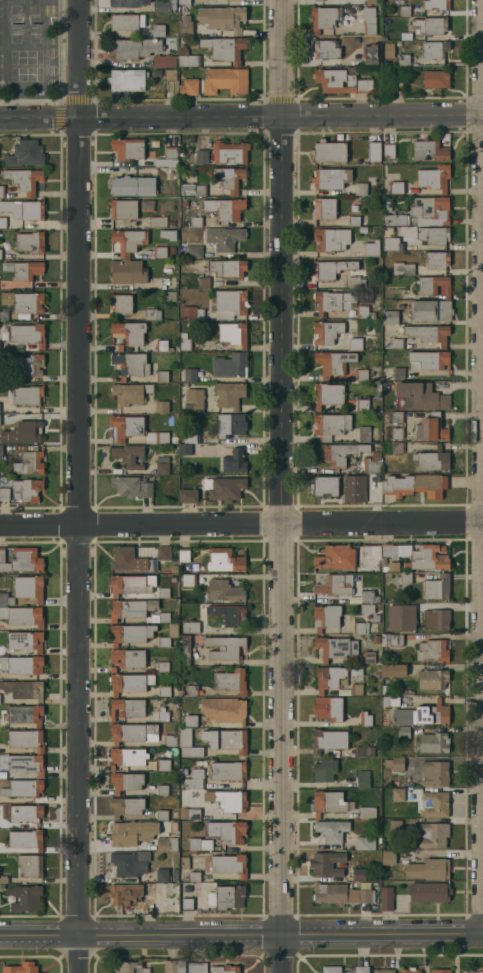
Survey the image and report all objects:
building: (318, 0)
building: (373, 1)
building: (185, 2)
building: (128, 3)
building: (436, 4)
building: (161, 5)
building: (185, 7)
building: (404, 10)
building: (324, 17)
building: (222, 18)
building: (369, 20)
building: (126, 22)
building: (186, 25)
building: (435, 25)
building: (158, 30)
building: (406, 36)
building: (134, 48)
building: (224, 48)
building: (328, 49)
building: (434, 49)
building: (389, 50)
building: (370, 54)
building: (187, 57)
building: (404, 59)
building: (164, 60)
building: (170, 75)
building: (436, 79)
building: (127, 80)
building: (225, 80)
building: (396, 81)
building: (341, 82)
building: (189, 86)
road: (241, 117)
building: (128, 148)
building: (388, 150)
building: (429, 150)
building: (329, 151)
building: (374, 151)
building: (229, 152)
building: (26, 153)
building: (171, 153)
building: (202, 156)
building: (170, 173)
building: (434, 177)
building: (229, 178)
building: (330, 178)
building: (24, 179)
building: (371, 180)
building: (132, 185)
building: (396, 188)
building: (193, 189)
building: (361, 189)
building: (1, 191)
building: (147, 205)
building: (324, 208)
building: (25, 209)
building: (123, 209)
building: (230, 209)
building: (431, 210)
building: (209, 219)
building: (394, 219)
building: (195, 221)
building: (354, 221)
building: (3, 222)
building: (158, 222)
building: (171, 224)
building: (364, 229)
building: (168, 234)
building: (433, 235)
building: (224, 238)
building: (330, 239)
building: (128, 241)
building: (31, 242)
building: (402, 244)
building: (372, 248)
building: (159, 252)
building: (173, 252)
building: (194, 252)
building: (1, 254)
building: (437, 260)
building: (227, 268)
building: (332, 268)
building: (403, 268)
building: (23, 269)
building: (127, 271)
building: (165, 281)
building: (203, 282)
building: (356, 282)
building: (433, 286)
building: (169, 296)
building: (331, 301)
building: (28, 302)
building: (121, 303)
building: (230, 303)
building: (431, 311)
building: (364, 312)
building: (190, 313)
building: (152, 314)
building: (3, 315)
building: (390, 317)
building: (129, 332)
building: (327, 332)
building: (233, 333)
building: (428, 333)
building: (28, 334)
building: (183, 335)
building: (357, 343)
building: (395, 343)
building: (185, 344)
building: (162, 345)
building: (119, 347)
building: (428, 359)
building: (333, 362)
building: (28, 365)
building: (130, 365)
building: (230, 365)
building: (398, 371)
building: (360, 374)
building: (190, 375)
building: (162, 376)
building: (131, 392)
building: (229, 394)
building: (328, 394)
building: (26, 395)
building: (421, 396)
building: (195, 399)
building: (362, 404)
building: (161, 406)
building: (397, 416)
building: (231, 425)
building: (330, 425)
building: (135, 429)
building: (428, 430)
building: (30, 431)
building: (363, 433)
building: (397, 433)
building: (192, 436)
building: (174, 439)
building: (397, 447)
building: (185, 449)
building: (338, 452)
building: (1, 453)
building: (129, 456)
building: (432, 459)
building: (234, 461)
building: (29, 463)
building: (371, 464)
building: (162, 468)
building: (376, 481)
building: (415, 485)
road: (76, 486)
road: (279, 486)
building: (325, 486)
building: (131, 487)
building: (226, 488)
building: (354, 488)
building: (28, 489)
building: (4, 494)
building: (188, 495)
road: (241, 522)
building: (372, 551)
building: (163, 552)
building: (184, 555)
building: (418, 556)
building: (336, 557)
building: (127, 559)
building: (22, 560)
building: (225, 560)
building: (391, 566)
building: (405, 577)
building: (188, 579)
building: (131, 584)
building: (335, 585)
building: (28, 588)
building: (436, 588)
building: (223, 591)
building: (163, 592)
building: (369, 596)
building: (3, 598)
building: (367, 608)
building: (136, 610)
building: (402, 610)
building: (3, 612)
building: (26, 616)
building: (234, 616)
building: (326, 617)
building: (376, 618)
building: (434, 620)
building: (191, 627)
building: (360, 627)
building: (131, 633)
building: (169, 635)
building: (391, 639)
building: (26, 640)
building: (225, 647)
building: (336, 647)
building: (184, 650)
building: (433, 651)
building: (369, 657)
building: (128, 658)
building: (22, 664)
building: (162, 667)
building: (112, 669)
building: (355, 670)
building: (393, 670)
building: (329, 677)
building: (432, 679)
building: (230, 681)
building: (127, 683)
building: (356, 689)
building: (24, 690)
building: (192, 690)
building: (164, 691)
building: (403, 692)
building: (393, 701)
building: (127, 708)
building: (328, 708)
building: (224, 709)
building: (25, 714)
building: (422, 714)
building: (163, 716)
building: (365, 719)
building: (190, 721)
building: (403, 731)
building: (134, 732)
building: (26, 739)
building: (230, 739)
building: (170, 740)
building: (328, 740)
building: (434, 742)
building: (188, 744)
building: (364, 751)
building: (128, 756)
building: (23, 763)
building: (394, 763)
building: (163, 765)
building: (112, 768)
building: (324, 770)
building: (183, 771)
building: (228, 771)
building: (434, 774)
building: (362, 779)
building: (195, 780)
building: (126, 781)
building: (23, 788)
building: (163, 790)
building: (398, 794)
building: (231, 800)
building: (328, 802)
building: (434, 804)
building: (126, 806)
building: (367, 812)
building: (26, 813)
building: (193, 814)
building: (162, 815)
building: (395, 826)
building: (173, 827)
building: (332, 830)
building: (227, 831)
building: (132, 832)
building: (433, 835)
building: (26, 839)
building: (365, 842)
building: (167, 843)
building: (199, 844)
building: (389, 858)
building: (130, 863)
building: (184, 863)
building: (326, 864)
building: (30, 865)
building: (229, 865)
building: (428, 869)
building: (358, 874)
building: (162, 875)
building: (194, 876)
building: (4, 879)
building: (2, 886)
building: (430, 892)
building: (125, 894)
building: (340, 894)
building: (226, 897)
building: (25, 898)
building: (386, 899)
building: (186, 904)
road: (241, 934)
building: (174, 966)
building: (132, 967)
building: (197, 967)
building: (22, 968)
building: (225, 969)
building: (331, 969)
building: (362, 969)
building: (410, 970)
building: (383, 971)
building: (442, 971)
building: (467, 971)

